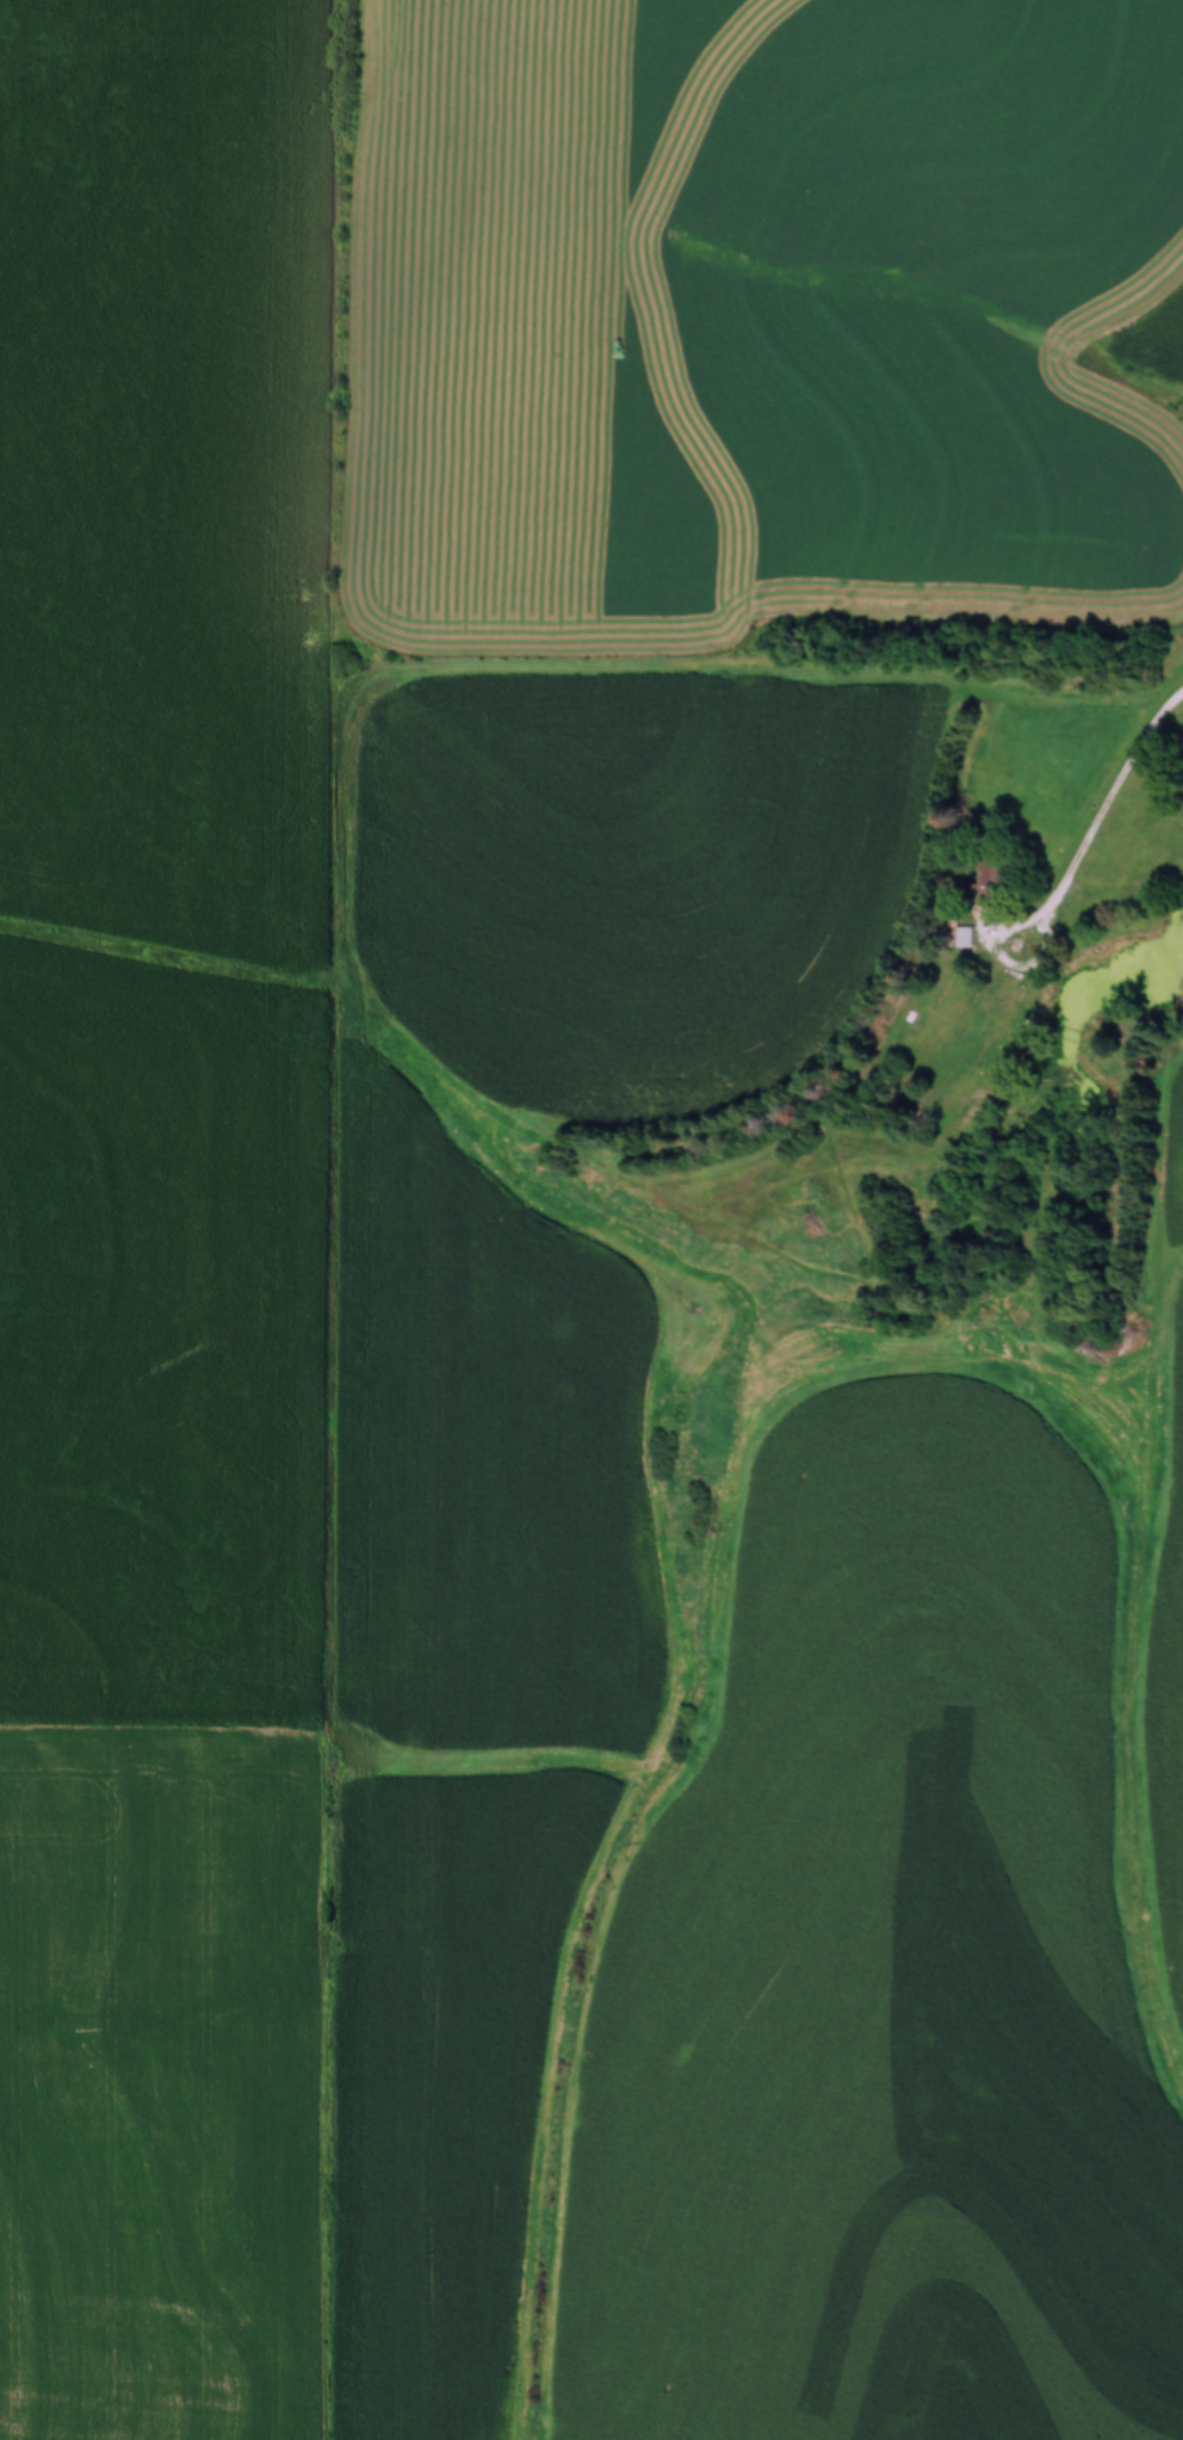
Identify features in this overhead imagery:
road: (1094, 828)
building: (984, 879)

